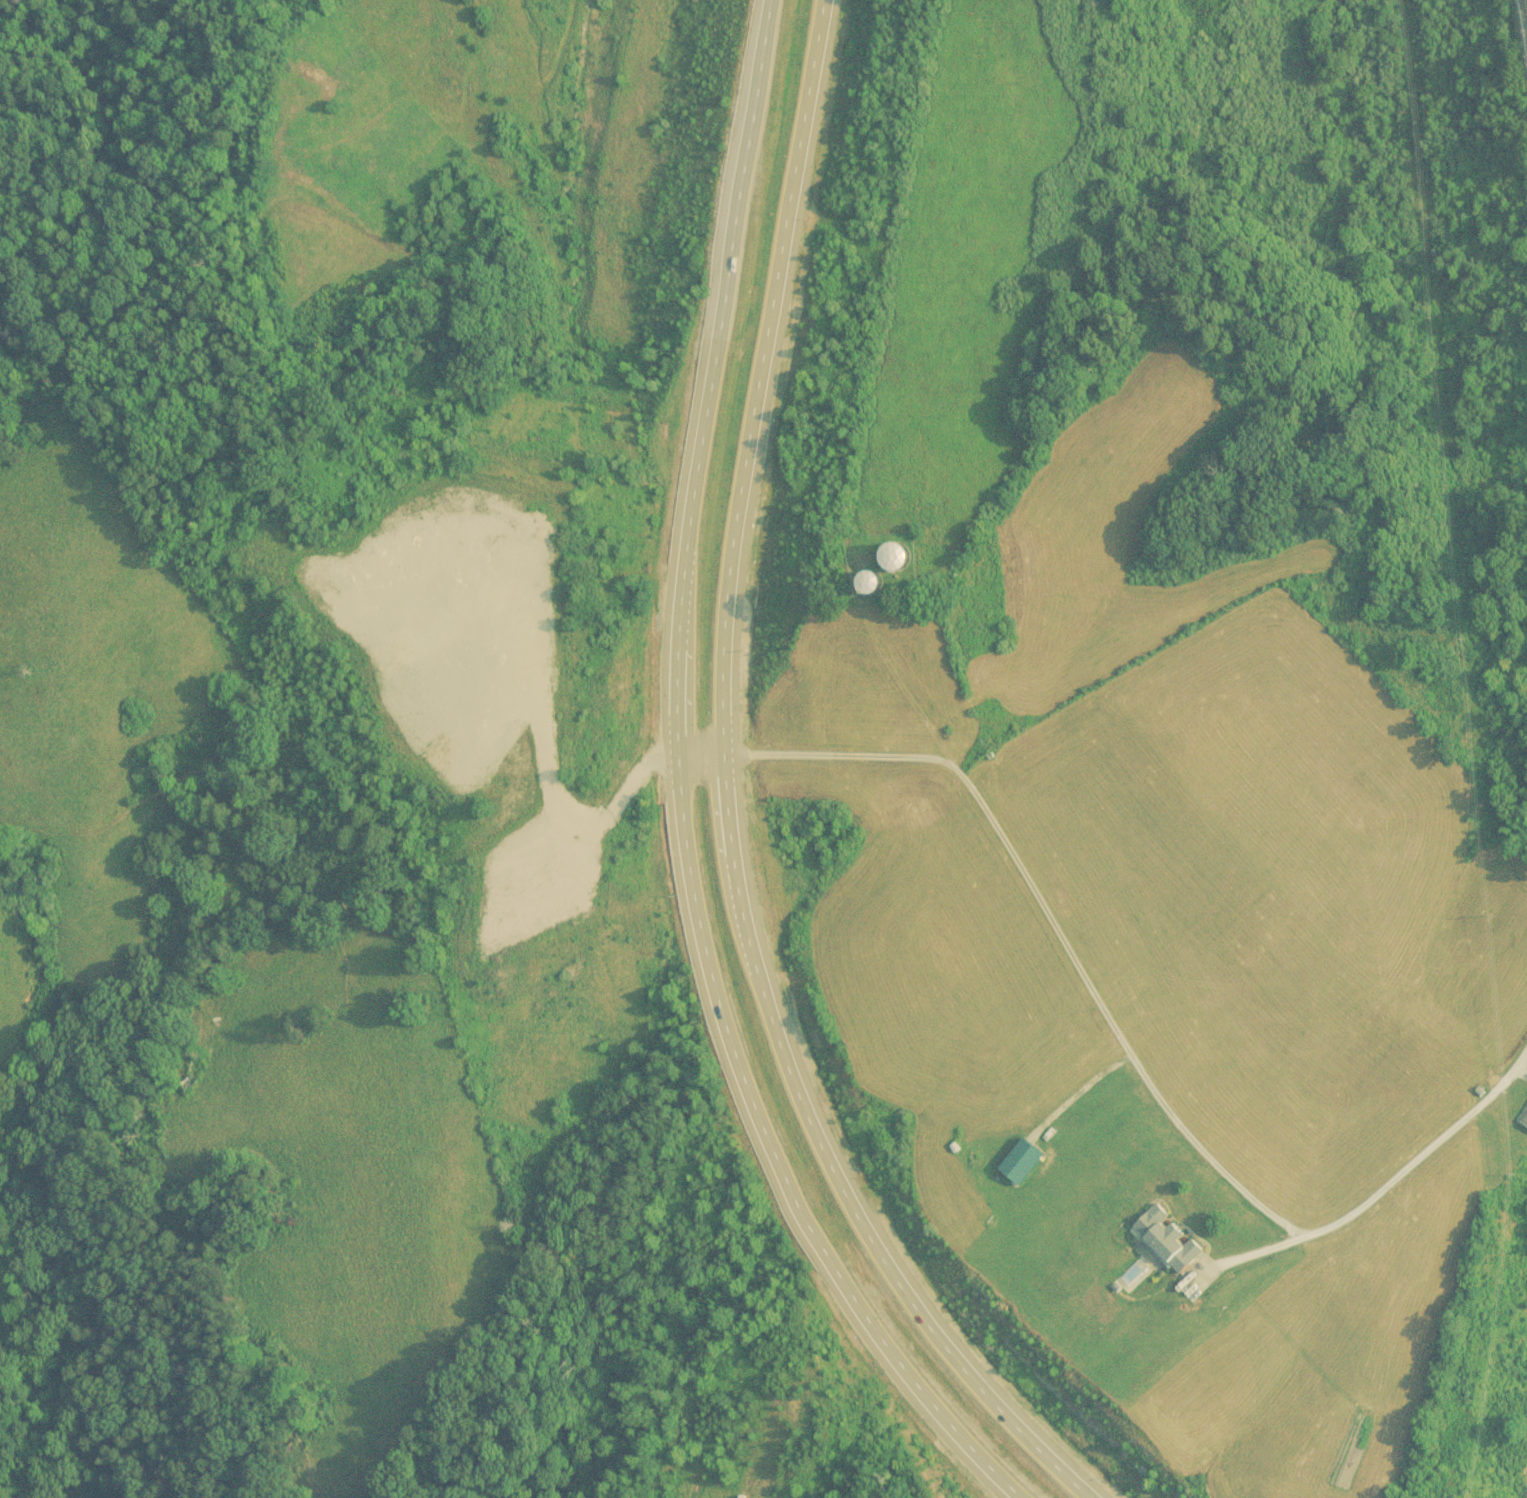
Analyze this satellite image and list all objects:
road: (1523, 15)
building: (895, 561)
building: (872, 585)
building: (993, 719)
road: (681, 793)
road: (726, 798)
road: (1036, 900)
building: (186, 1083)
building: (1524, 1119)
road: (1387, 1183)
building: (992, 1184)
building: (1163, 1241)

